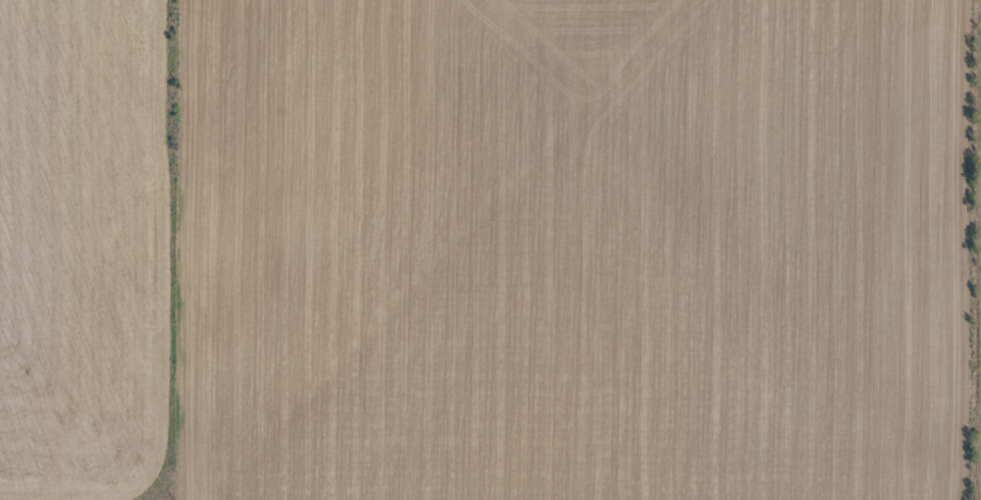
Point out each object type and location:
road: (968, 250)

